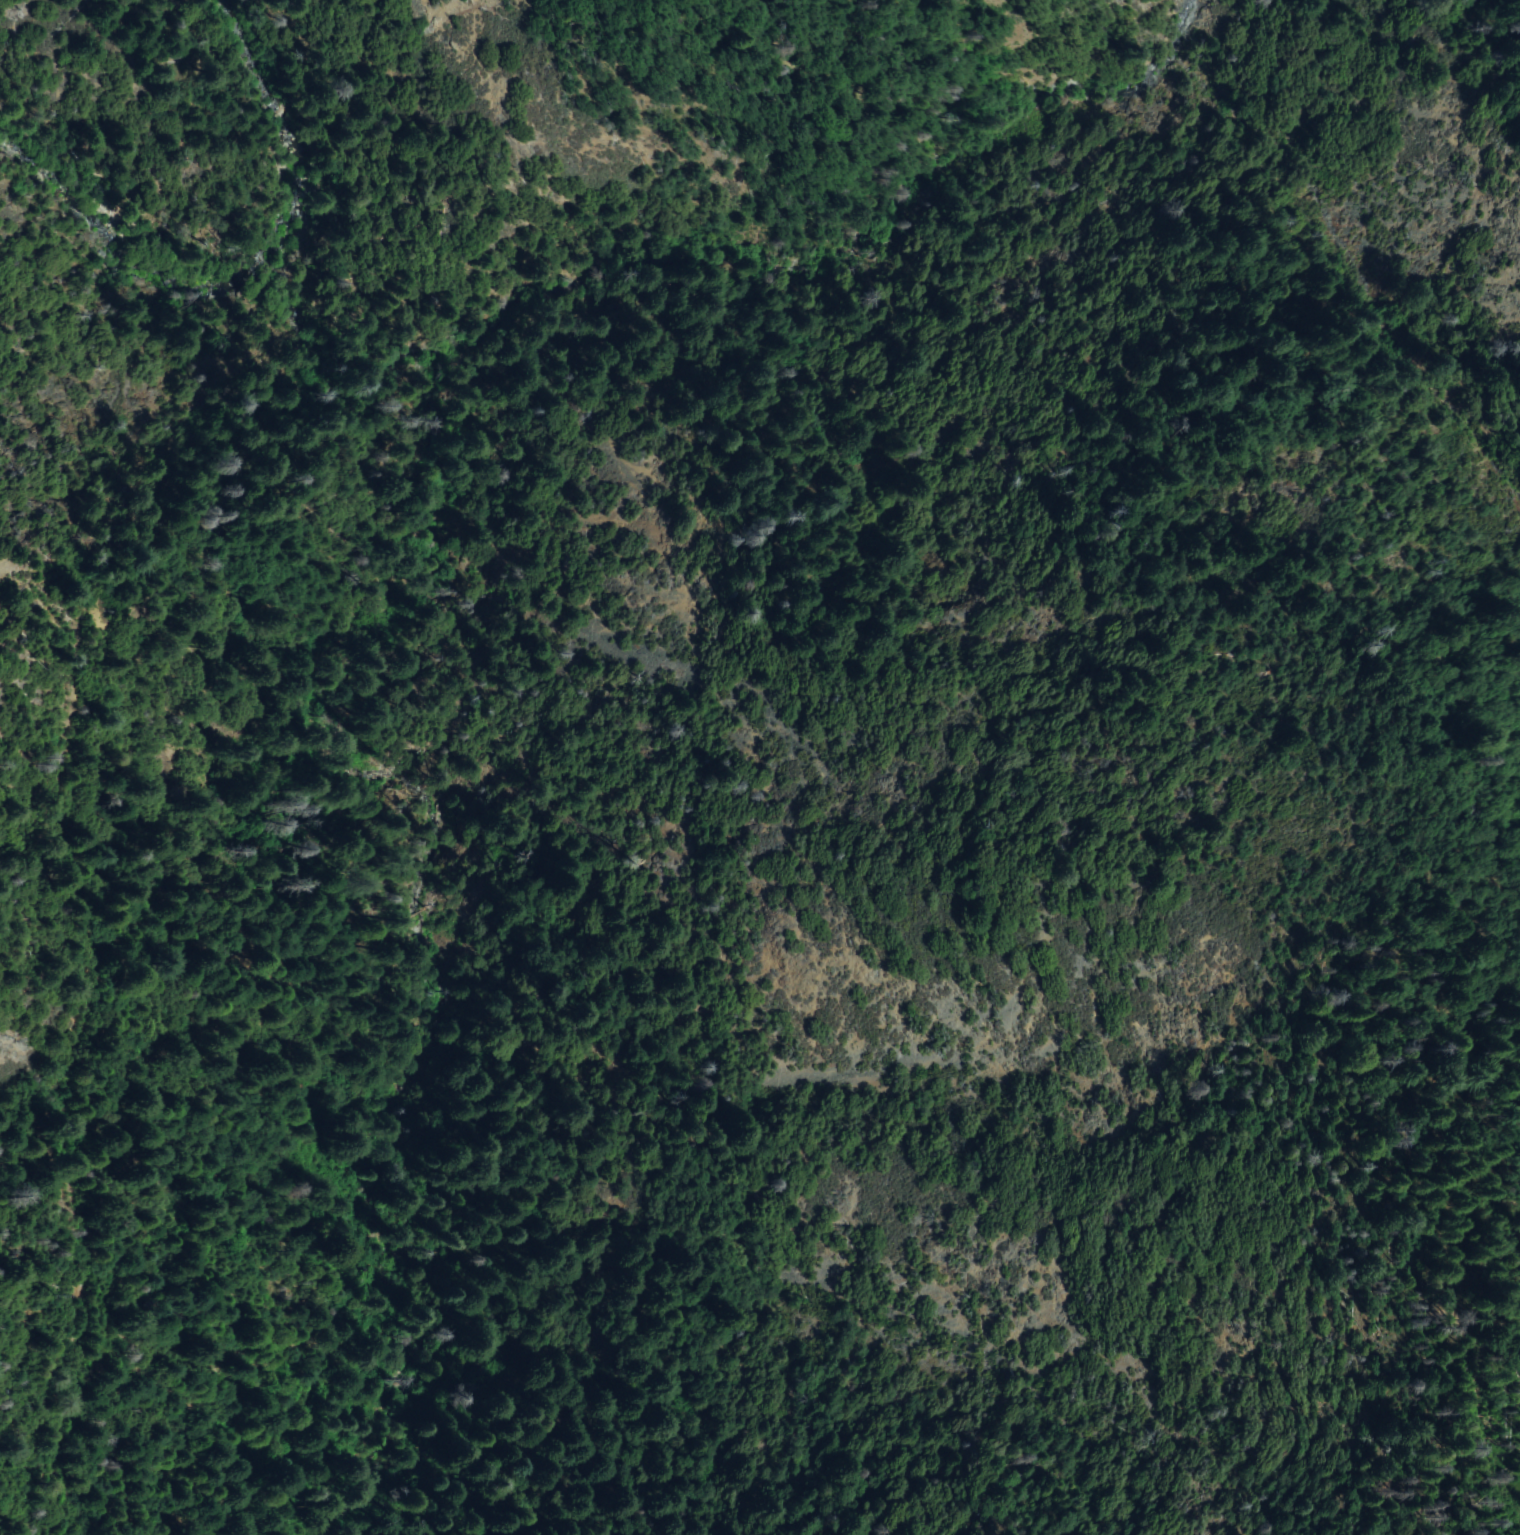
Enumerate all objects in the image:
river: (242, 258)

